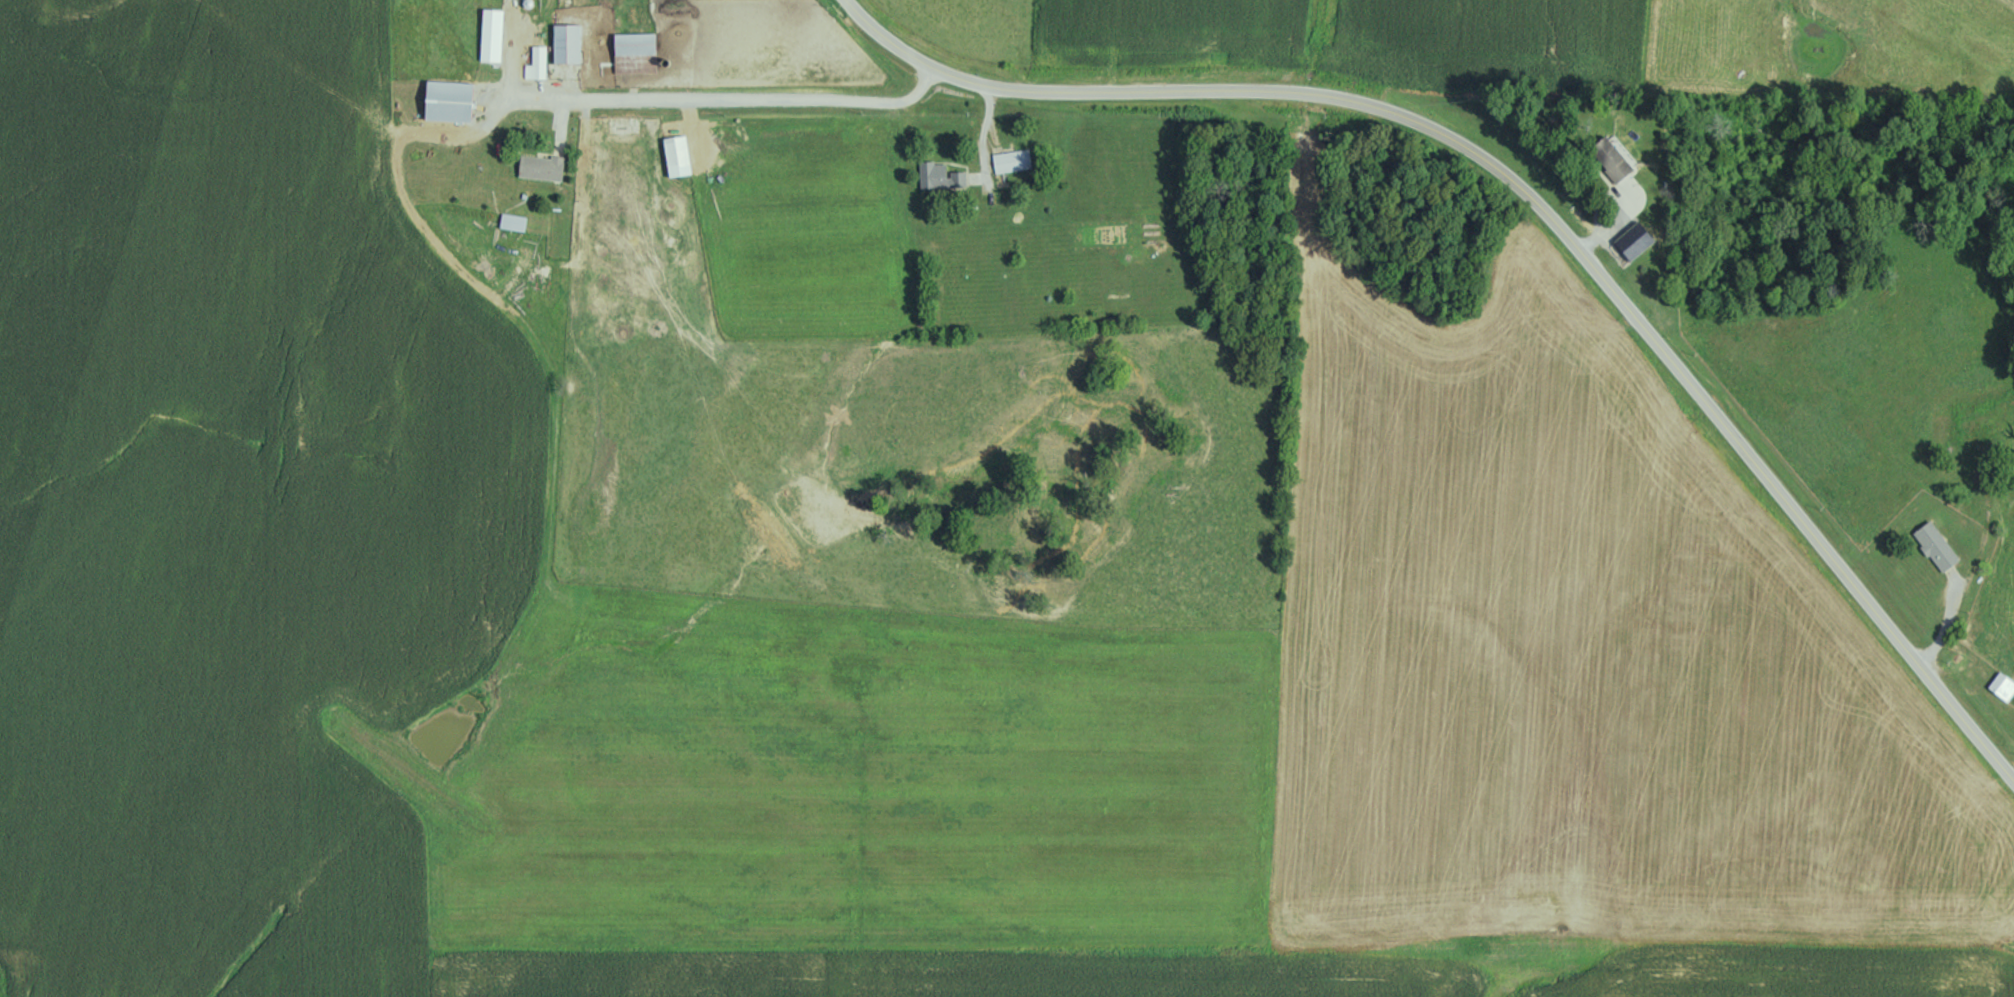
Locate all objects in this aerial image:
building: (491, 35)
building: (566, 43)
building: (634, 53)
building: (537, 64)
building: (448, 101)
road: (770, 105)
building: (676, 156)
building: (1610, 159)
building: (1012, 161)
building: (540, 167)
building: (939, 176)
road: (1536, 198)
building: (512, 222)
building: (1981, 434)
building: (1935, 546)
building: (2002, 686)

